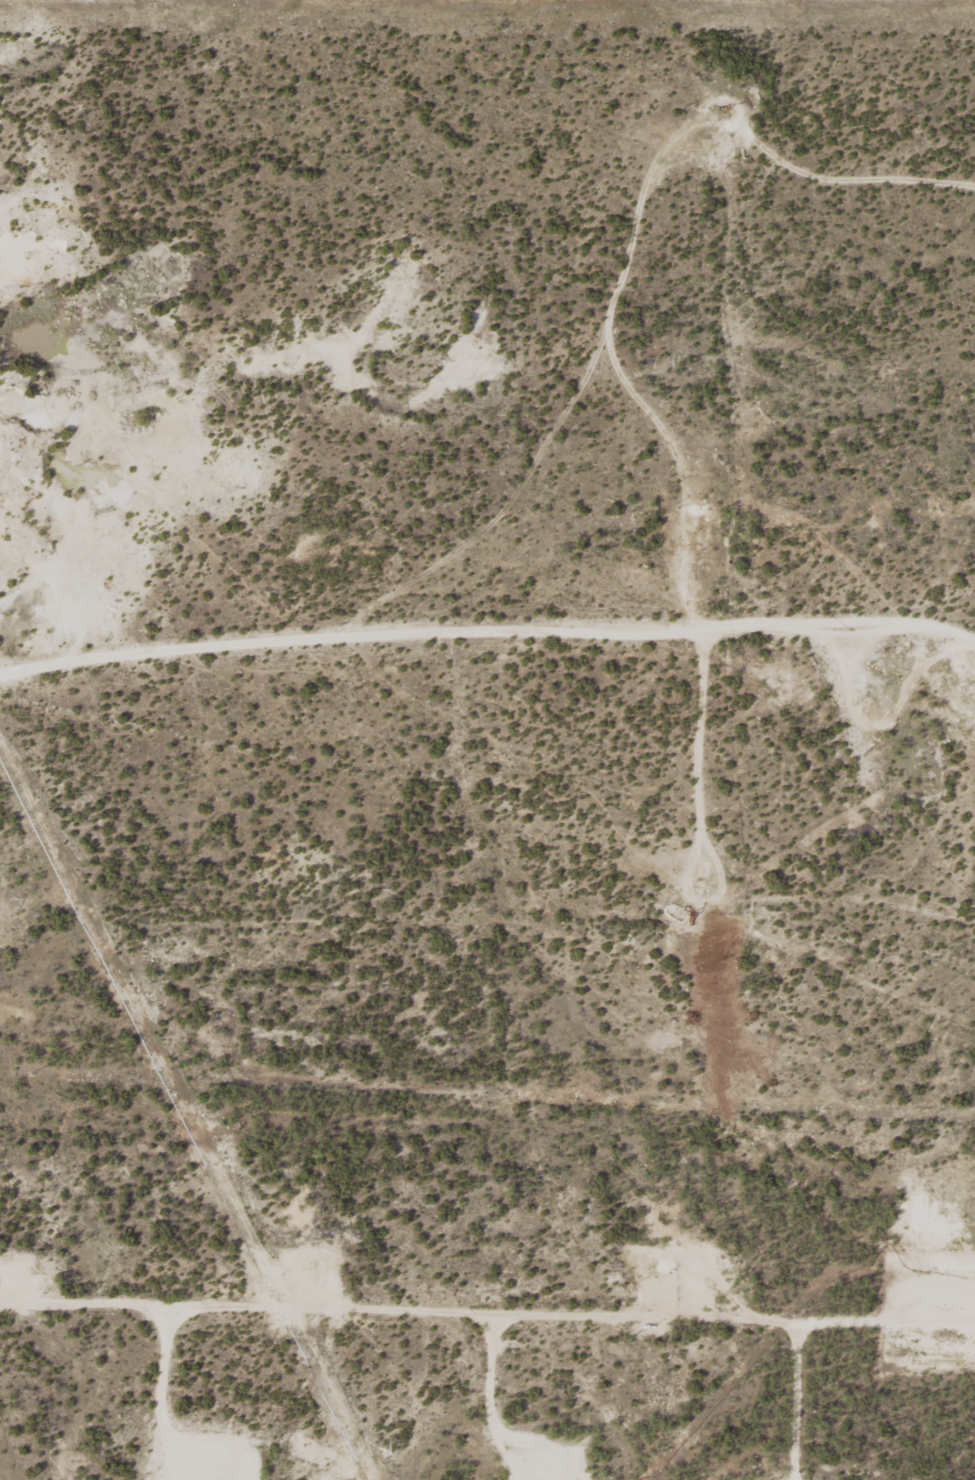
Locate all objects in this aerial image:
road: (472, 551)
road: (664, 626)
road: (325, 1336)

